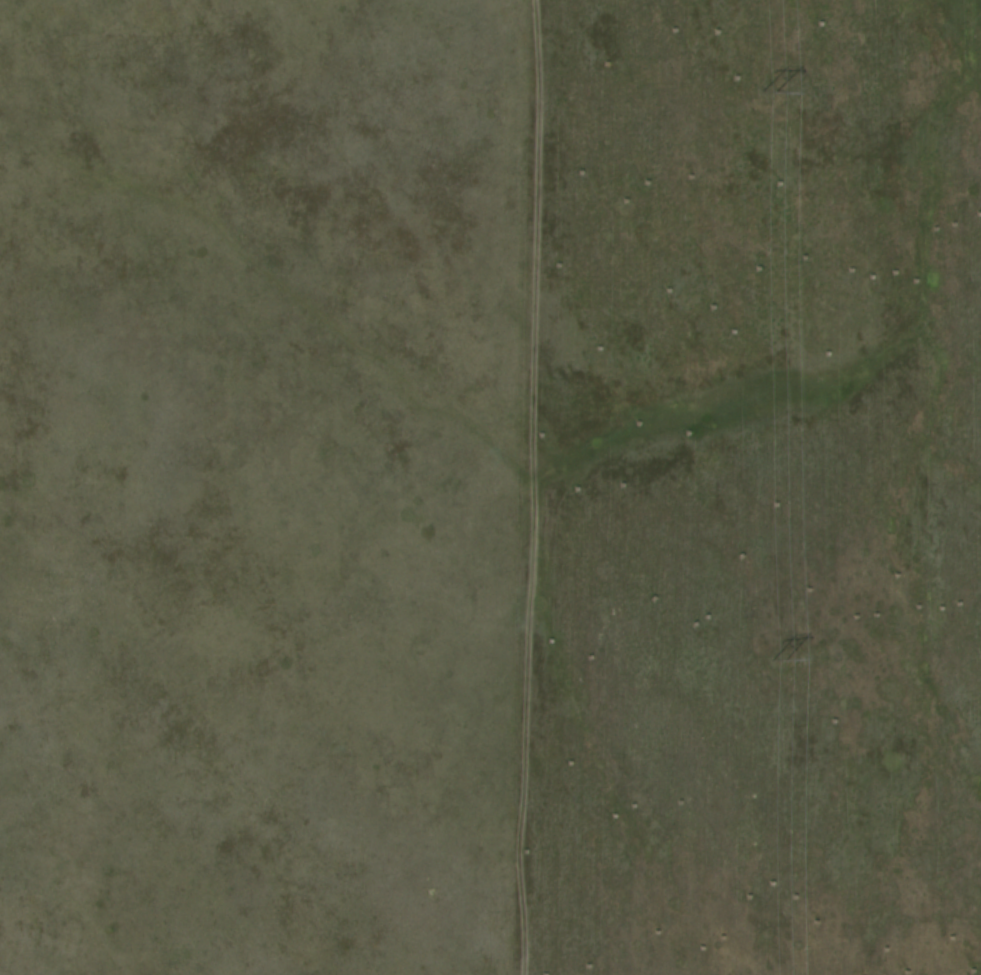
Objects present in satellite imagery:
power tower: (763, 93)
power tower: (775, 659)

